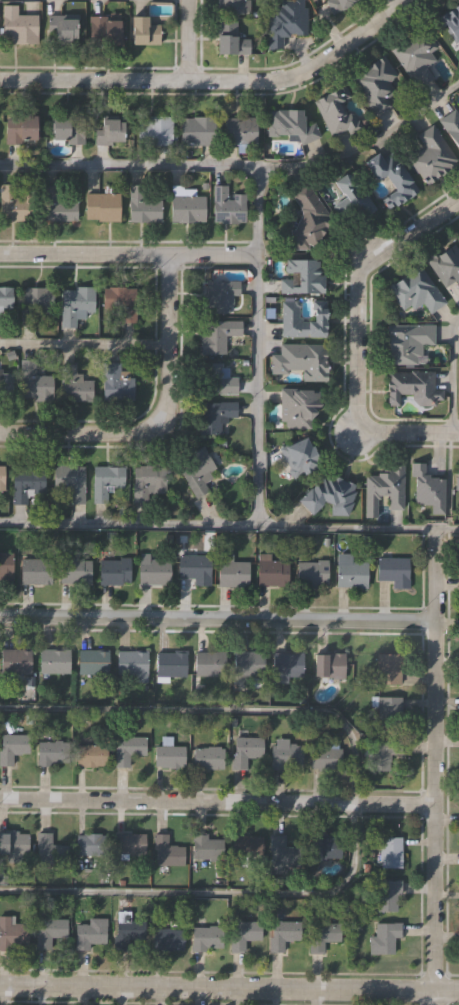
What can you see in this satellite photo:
building: (338, 5)
building: (233, 6)
building: (451, 20)
building: (287, 22)
building: (20, 27)
building: (61, 28)
building: (106, 29)
building: (143, 29)
building: (231, 37)
road: (184, 40)
building: (415, 54)
road: (214, 81)
building: (376, 82)
building: (338, 110)
building: (451, 124)
building: (68, 126)
building: (292, 126)
building: (20, 127)
building: (155, 129)
building: (197, 129)
building: (239, 129)
building: (109, 130)
building: (431, 155)
road: (241, 167)
building: (390, 178)
building: (351, 196)
building: (15, 204)
building: (185, 204)
building: (103, 205)
building: (227, 205)
building: (57, 206)
building: (143, 206)
building: (307, 217)
road: (129, 254)
building: (445, 265)
building: (303, 277)
road: (357, 288)
building: (413, 292)
building: (218, 297)
building: (6, 298)
building: (121, 301)
building: (35, 304)
building: (77, 304)
building: (289, 319)
building: (219, 333)
building: (407, 341)
road: (84, 344)
road: (258, 347)
building: (301, 361)
road: (453, 375)
building: (217, 377)
building: (116, 381)
building: (34, 382)
building: (75, 383)
building: (5, 385)
building: (412, 387)
building: (298, 404)
building: (215, 413)
road: (156, 415)
road: (408, 434)
building: (299, 455)
building: (197, 469)
building: (2, 476)
building: (456, 478)
building: (109, 479)
building: (70, 480)
building: (148, 480)
building: (28, 482)
building: (426, 485)
building: (384, 487)
building: (329, 494)
road: (229, 525)
building: (6, 566)
building: (195, 566)
building: (392, 567)
building: (75, 568)
building: (36, 569)
building: (232, 569)
building: (272, 569)
building: (351, 569)
building: (114, 570)
building: (154, 570)
building: (313, 572)
road: (216, 620)
building: (17, 659)
building: (57, 660)
building: (94, 661)
building: (132, 661)
building: (249, 662)
building: (170, 663)
building: (209, 663)
building: (331, 663)
building: (288, 664)
building: (389, 668)
building: (389, 709)
building: (13, 746)
building: (127, 748)
building: (245, 749)
building: (53, 751)
building: (168, 751)
building: (383, 751)
building: (285, 752)
building: (90, 754)
building: (326, 754)
building: (208, 756)
road: (431, 759)
road: (215, 802)
road: (354, 803)
building: (11, 843)
building: (91, 843)
building: (130, 843)
building: (326, 845)
building: (205, 848)
building: (50, 849)
building: (244, 849)
building: (168, 851)
building: (392, 851)
building: (284, 854)
building: (388, 893)
building: (125, 930)
building: (48, 931)
building: (11, 933)
building: (87, 933)
building: (242, 934)
building: (284, 934)
building: (323, 935)
building: (205, 937)
building: (385, 937)
building: (168, 938)
road: (229, 986)
road: (434, 997)

